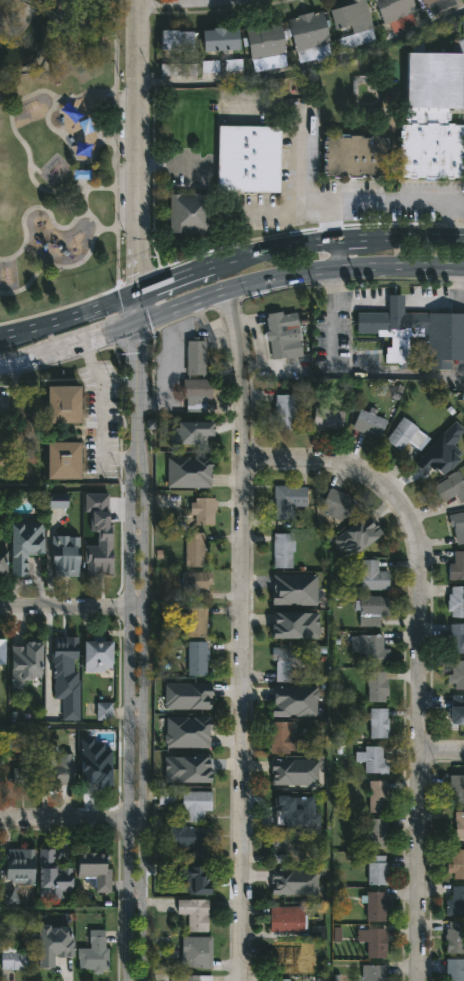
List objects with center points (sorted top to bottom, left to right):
building: (441, 0)
road: (24, 2)
building: (429, 2)
building: (404, 7)
road: (43, 11)
building: (387, 11)
road: (78, 14)
building: (359, 17)
building: (342, 21)
building: (317, 31)
road: (85, 33)
building: (300, 34)
building: (228, 40)
building: (275, 40)
building: (211, 41)
building: (185, 42)
building: (169, 43)
building: (256, 43)
road: (303, 72)
building: (433, 81)
road: (100, 90)
road: (88, 102)
road: (14, 105)
road: (96, 144)
road: (133, 147)
park: (57, 150)
building: (431, 150)
building: (83, 151)
building: (352, 154)
building: (247, 159)
road: (298, 176)
road: (101, 188)
road: (459, 205)
road: (118, 206)
road: (392, 206)
road: (44, 209)
building: (189, 213)
road: (272, 213)
road: (397, 238)
road: (332, 252)
road: (230, 257)
road: (398, 262)
road: (65, 268)
road: (231, 283)
road: (461, 284)
traffic signals: (134, 294)
road: (360, 303)
road: (394, 303)
road: (408, 304)
road: (439, 304)
road: (134, 308)
road: (67, 316)
traffic signals: (135, 323)
building: (416, 332)
building: (282, 334)
road: (90, 337)
building: (195, 357)
road: (23, 359)
road: (344, 372)
road: (135, 373)
road: (170, 386)
building: (195, 395)
building: (63, 403)
building: (28, 411)
building: (283, 411)
road: (102, 413)
building: (327, 418)
parking lot: (103, 419)
building: (368, 423)
building: (194, 430)
building: (404, 435)
building: (1, 441)
building: (63, 459)
building: (433, 460)
building: (189, 469)
building: (450, 487)
building: (286, 500)
building: (336, 505)
building: (201, 511)
building: (457, 526)
building: (367, 532)
building: (97, 537)
building: (24, 543)
building: (193, 549)
building: (281, 550)
building: (64, 556)
building: (2, 557)
building: (456, 566)
building: (371, 575)
building: (195, 580)
building: (294, 590)
building: (455, 601)
road: (71, 603)
building: (371, 608)
building: (297, 626)
road: (239, 632)
building: (455, 637)
building: (195, 640)
building: (368, 649)
building: (2, 650)
road: (415, 653)
building: (98, 654)
building: (25, 661)
building: (284, 662)
building: (65, 674)
building: (458, 674)
building: (376, 686)
building: (187, 693)
building: (295, 699)
road: (128, 702)
road: (142, 702)
building: (455, 711)
building: (104, 713)
street lamp: (134, 713)
building: (377, 722)
building: (187, 729)
building: (282, 736)
road: (439, 753)
building: (374, 759)
building: (94, 762)
building: (195, 766)
building: (58, 769)
building: (295, 771)
building: (24, 775)
building: (455, 789)
building: (165, 796)
building: (376, 796)
building: (194, 805)
building: (289, 807)
road: (71, 819)
building: (458, 825)
building: (376, 833)
building: (188, 839)
building: (286, 841)
building: (16, 863)
building: (456, 865)
building: (94, 869)
building: (376, 870)
building: (50, 876)
building: (189, 877)
building: (287, 882)
building: (455, 902)
building: (375, 906)
street lamp: (133, 909)
building: (193, 913)
building: (286, 919)
building: (454, 937)
building: (375, 942)
building: (53, 944)
building: (195, 952)
building: (92, 953)
building: (289, 953)
building: (14, 959)
building: (454, 970)
building: (373, 973)
building: (189, 978)

